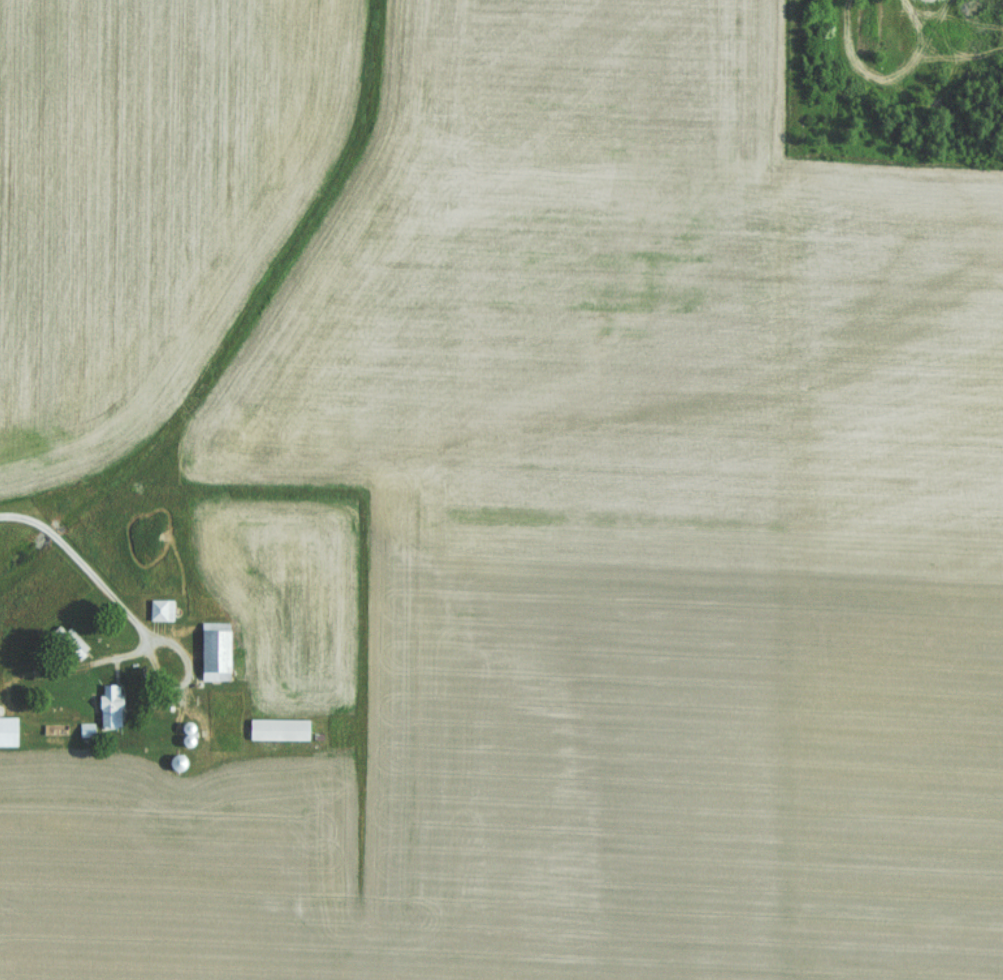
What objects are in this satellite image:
road: (86, 562)
building: (212, 651)
building: (277, 728)
building: (6, 730)

